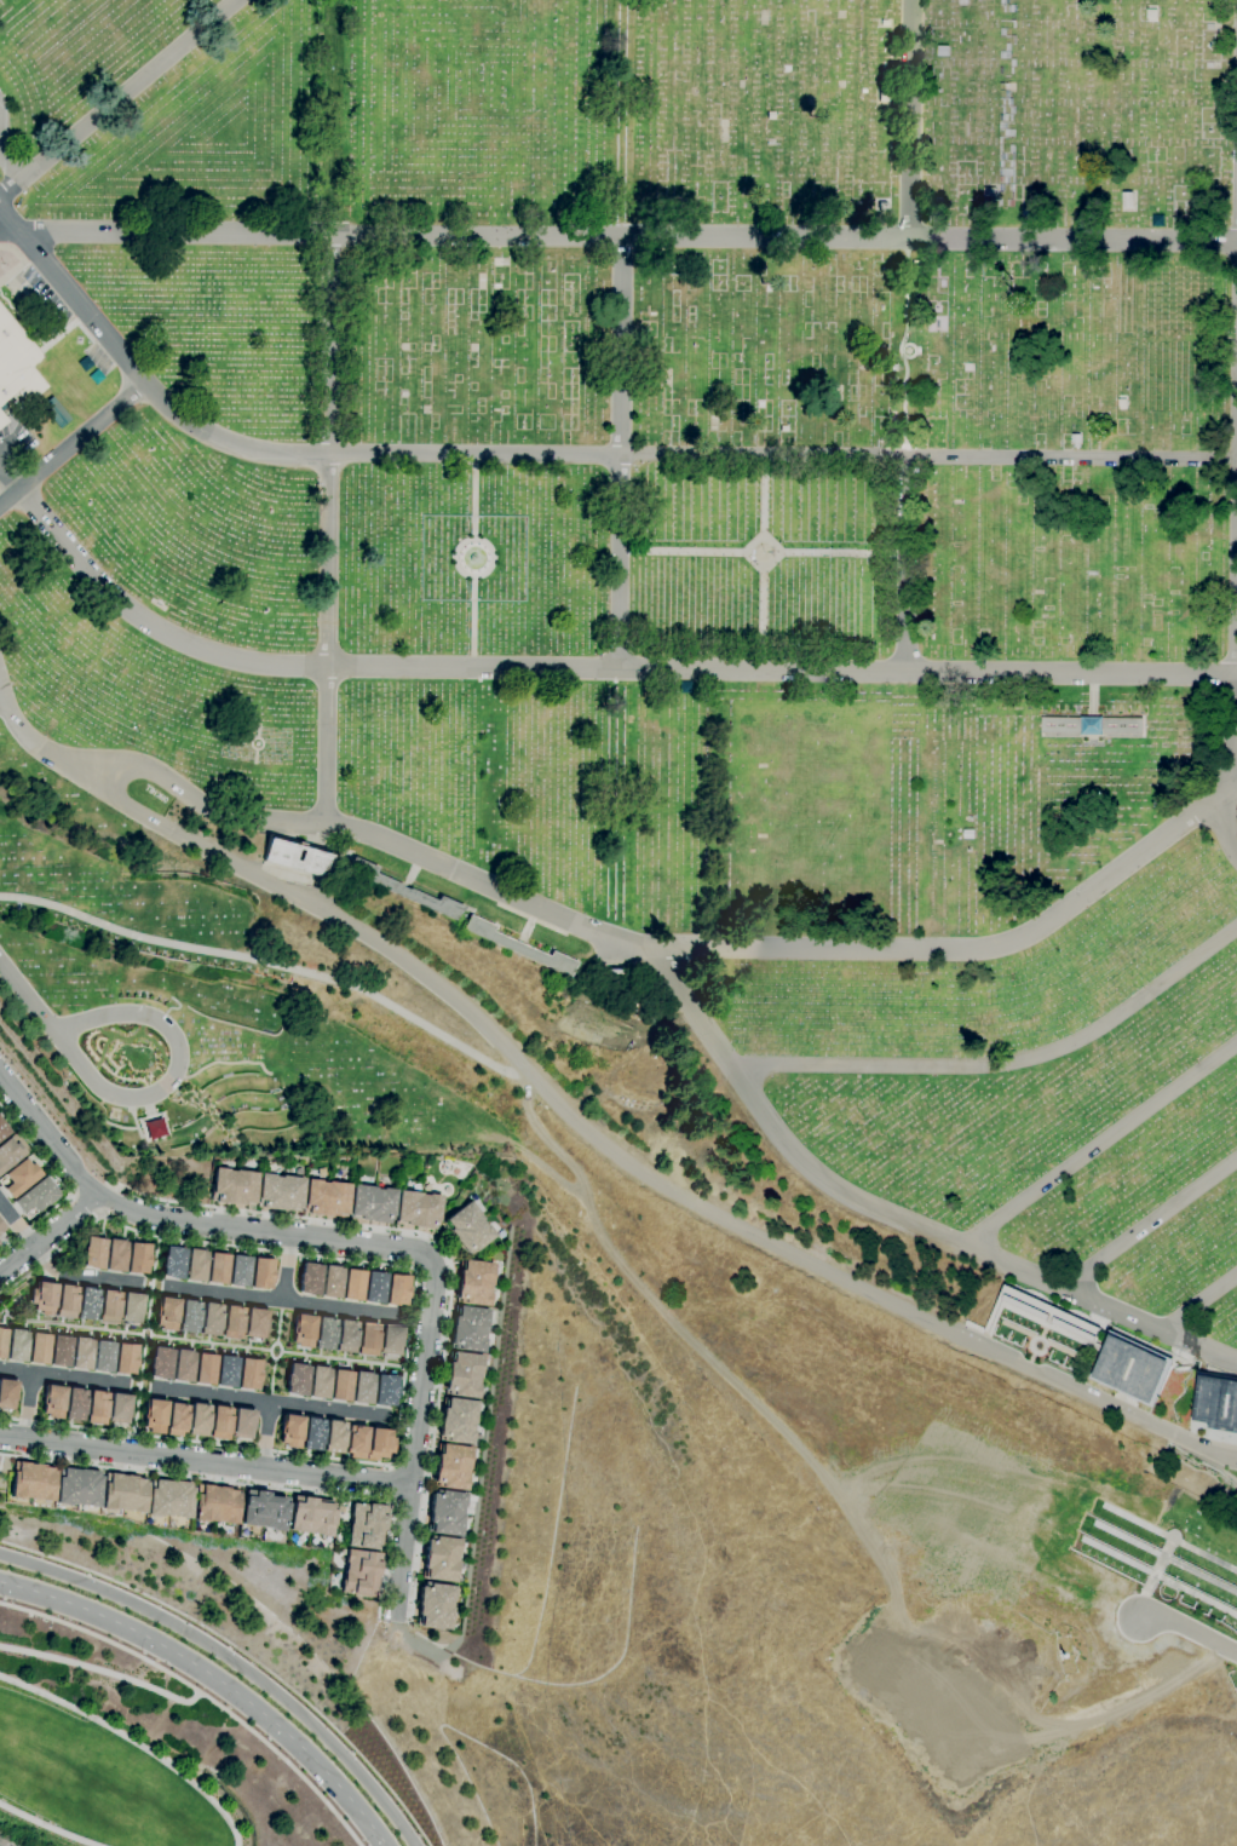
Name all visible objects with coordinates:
building: (1152, 13)
building: (884, 22)
building: (944, 50)
building: (882, 97)
road: (126, 99)
building: (770, 115)
road: (910, 119)
road: (10, 171)
building: (990, 191)
building: (1128, 199)
road: (7, 231)
road: (625, 236)
flagpole: (0, 263)
road: (622, 332)
building: (16, 366)
building: (1122, 402)
road: (326, 409)
building: (783, 427)
road: (73, 444)
road: (908, 454)
road: (566, 458)
road: (11, 478)
road: (763, 498)
road: (473, 499)
road: (684, 552)
road: (842, 553)
fountain: (472, 558)
road: (763, 569)
road: (473, 576)
road: (761, 617)
road: (472, 621)
road: (596, 665)
road: (2, 706)
building: (1092, 725)
road: (1222, 780)
park: (689, 807)
building: (968, 833)
building: (278, 857)
building: (404, 890)
building: (519, 947)
road: (669, 947)
road: (270, 964)
road: (29, 999)
road: (1005, 1066)
road: (122, 1094)
road: (583, 1122)
building: (155, 1128)
building: (2, 1129)
road: (1098, 1143)
building: (11, 1150)
building: (18, 1178)
road: (63, 1185)
building: (234, 1186)
building: (280, 1191)
building: (35, 1197)
building: (326, 1197)
building: (372, 1203)
building: (418, 1209)
road: (1146, 1218)
road: (896, 1220)
road: (185, 1223)
road: (18, 1225)
building: (1, 1229)
building: (470, 1229)
road: (50, 1238)
building: (93, 1252)
building: (115, 1255)
road: (450, 1256)
building: (137, 1258)
building: (173, 1263)
building: (195, 1265)
building: (217, 1269)
road: (287, 1269)
building: (238, 1271)
building: (260, 1273)
road: (84, 1276)
building: (309, 1278)
building: (330, 1282)
building: (474, 1282)
building: (352, 1284)
building: (374, 1287)
building: (397, 1289)
building: (42, 1298)
road: (281, 1300)
building: (65, 1302)
building: (87, 1304)
road: (1199, 1304)
building: (109, 1307)
building: (132, 1309)
building: (167, 1313)
building: (189, 1316)
building: (1041, 1316)
building: (211, 1318)
building: (232, 1323)
building: (254, 1323)
building: (468, 1329)
building: (303, 1330)
building: (324, 1333)
road: (146, 1335)
building: (346, 1335)
building: (368, 1339)
building: (390, 1339)
road: (408, 1339)
building: (2, 1342)
building: (16, 1345)
building: (38, 1347)
building: (59, 1351)
building: (81, 1353)
building: (103, 1356)
building: (125, 1358)
building: (161, 1363)
building: (183, 1365)
building: (1130, 1368)
building: (205, 1369)
road: (424, 1370)
building: (225, 1371)
building: (248, 1374)
building: (464, 1374)
road: (63, 1376)
building: (297, 1380)
building: (318, 1382)
building: (340, 1386)
building: (362, 1387)
building: (384, 1391)
building: (6, 1393)
road: (267, 1401)
building: (53, 1402)
building: (1216, 1403)
building: (75, 1404)
road: (25, 1405)
building: (97, 1408)
building: (120, 1409)
building: (154, 1415)
building: (176, 1419)
building: (199, 1420)
building: (458, 1420)
building: (219, 1424)
building: (242, 1424)
building: (290, 1431)
building: (312, 1433)
road: (264, 1434)
building: (334, 1437)
building: (356, 1442)
building: (379, 1444)
road: (205, 1460)
building: (451, 1467)
road: (390, 1483)
building: (53, 1484)
road: (252, 1485)
building: (123, 1493)
building: (169, 1499)
building: (215, 1503)
building: (264, 1511)
building: (445, 1513)
building: (311, 1517)
building: (366, 1525)
road: (402, 1553)
building: (439, 1559)
building: (359, 1574)
building: (435, 1606)
road: (1187, 1628)
road: (242, 1655)
road: (234, 1661)
road: (215, 1680)
road: (113, 1684)
road: (200, 1693)
building: (189, 1700)
building: (197, 1704)
building: (205, 1710)
building: (212, 1713)
road: (133, 1742)
park: (133, 1754)
building: (298, 1759)
building: (345, 1811)
road: (48, 1825)

